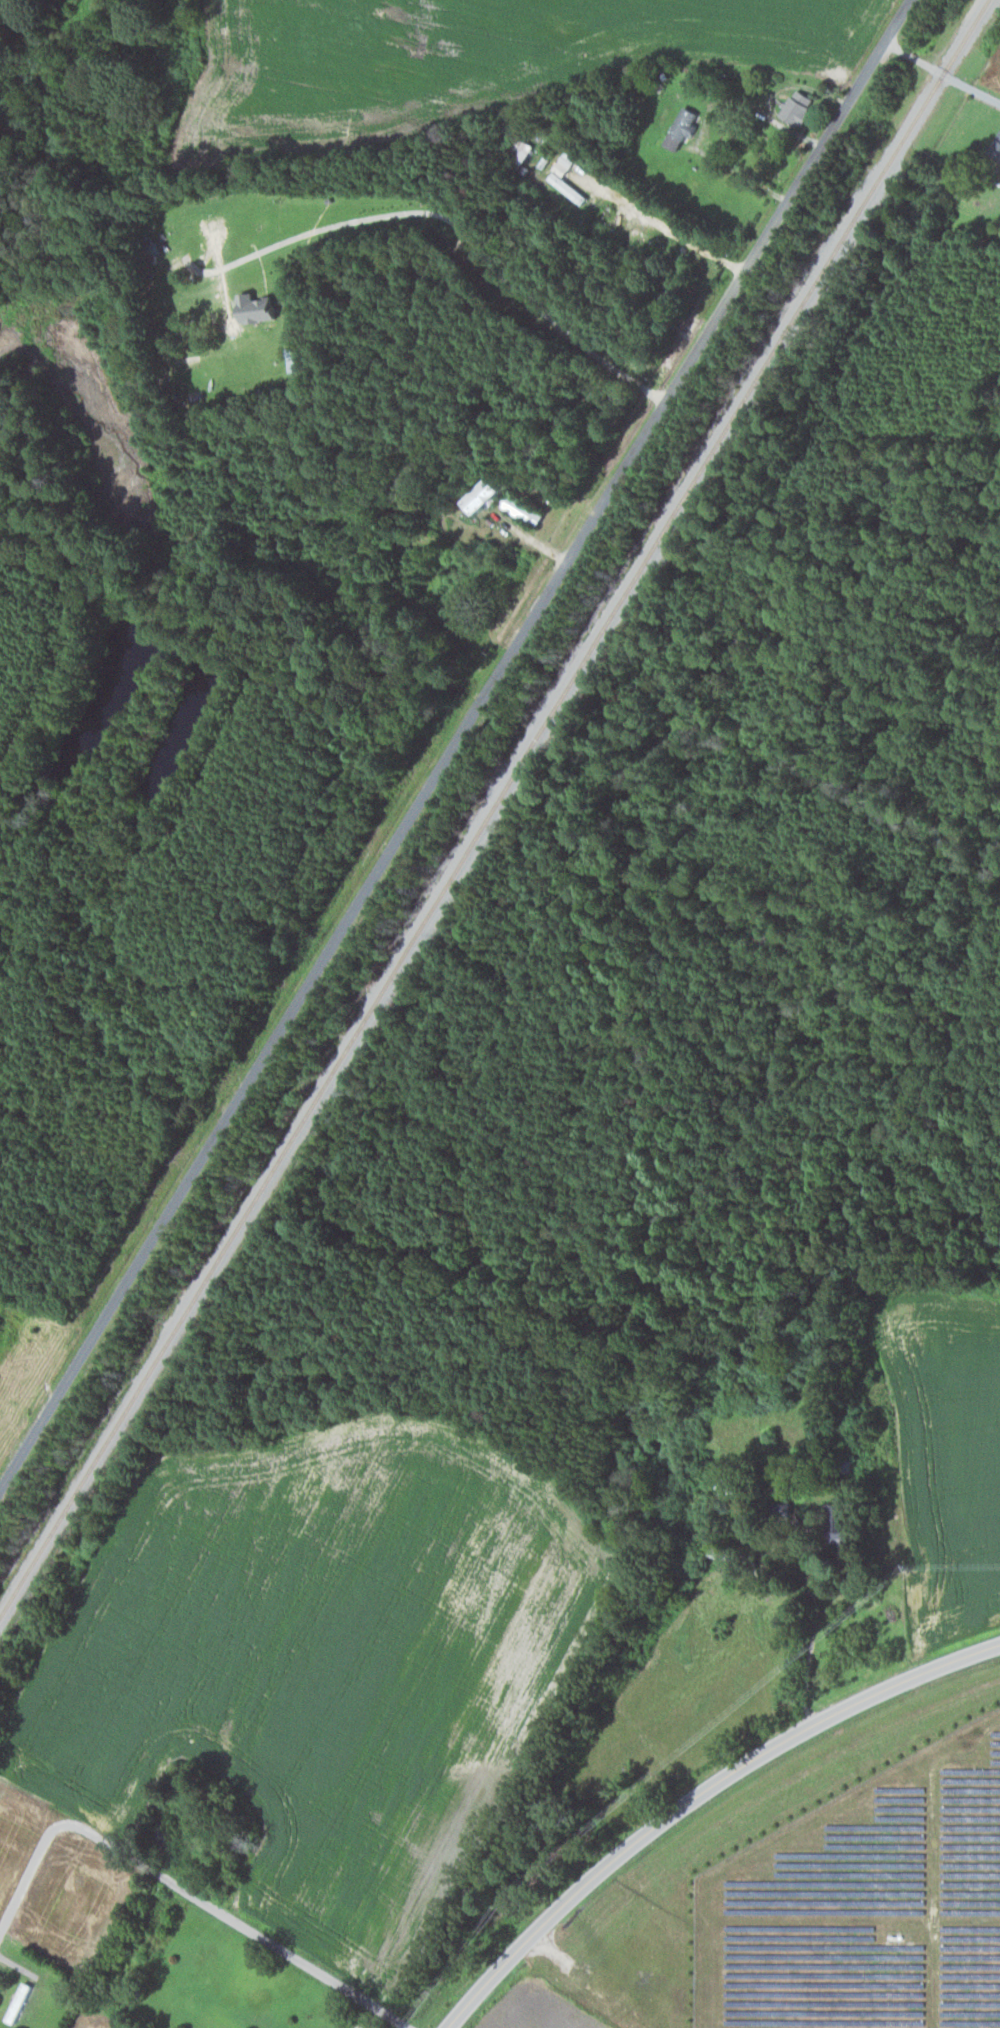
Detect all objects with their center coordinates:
road: (941, 72)
building: (801, 106)
building: (685, 125)
building: (557, 177)
road: (659, 221)
road: (454, 222)
building: (258, 307)
building: (480, 495)
building: (523, 508)
road: (448, 739)
railway: (493, 809)
building: (842, 1527)
crop: (317, 1664)
road: (696, 1793)
building: (168, 1832)
road: (27, 1875)
crop: (73, 1901)
solar farm: (866, 1903)
road: (235, 1921)
road: (18, 1965)
building: (19, 2002)
crop: (537, 2010)
crop: (94, 2020)

